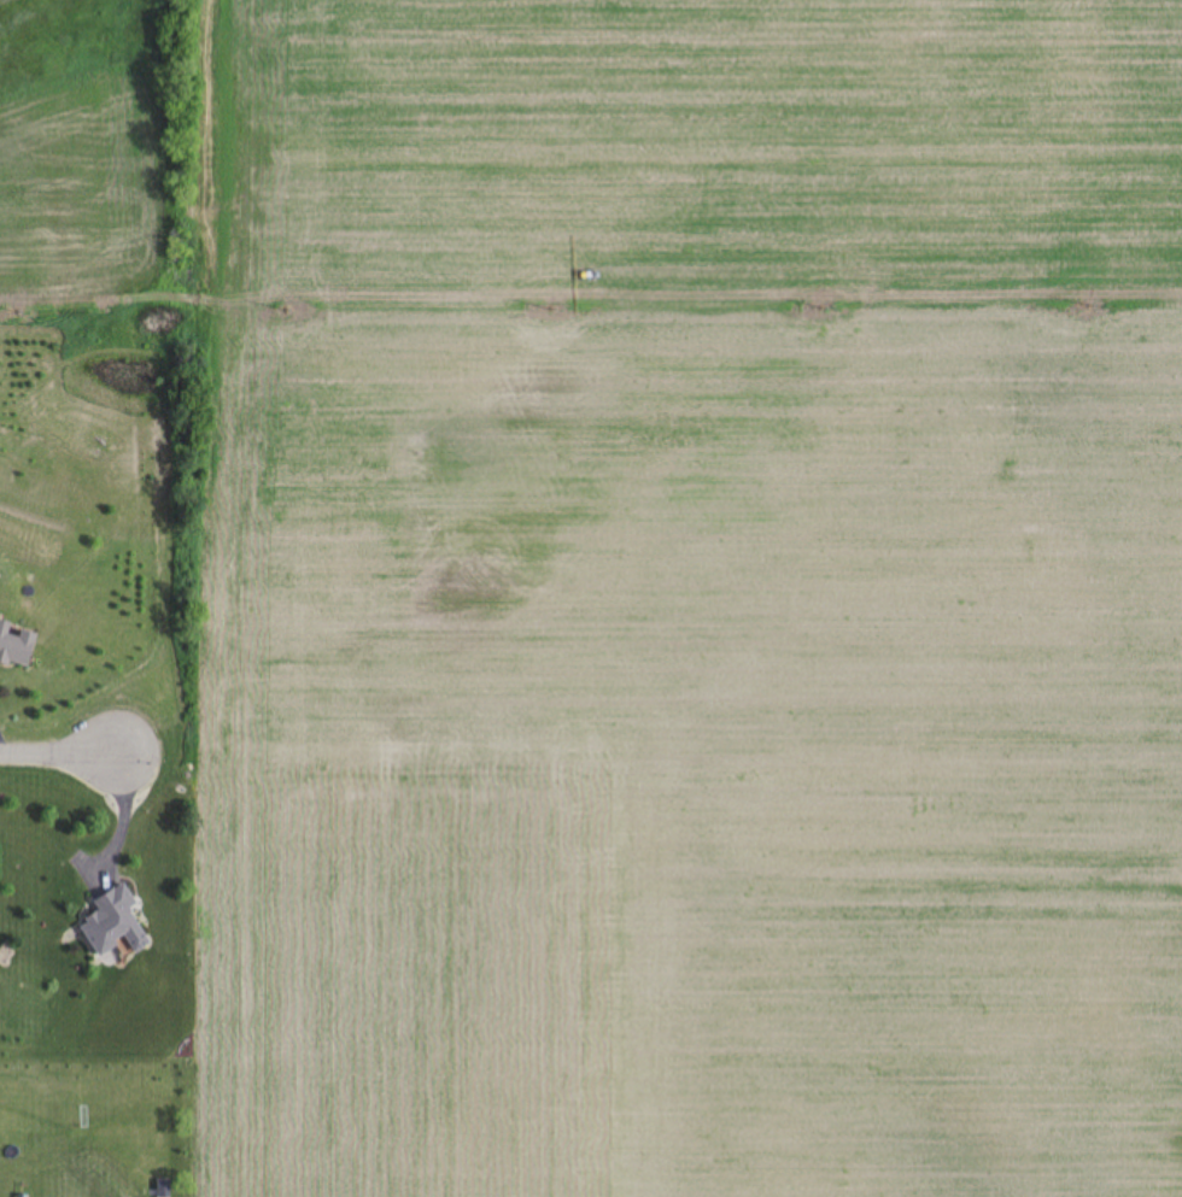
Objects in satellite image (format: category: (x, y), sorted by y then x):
building: (16, 645)
road: (59, 750)
building: (115, 923)

